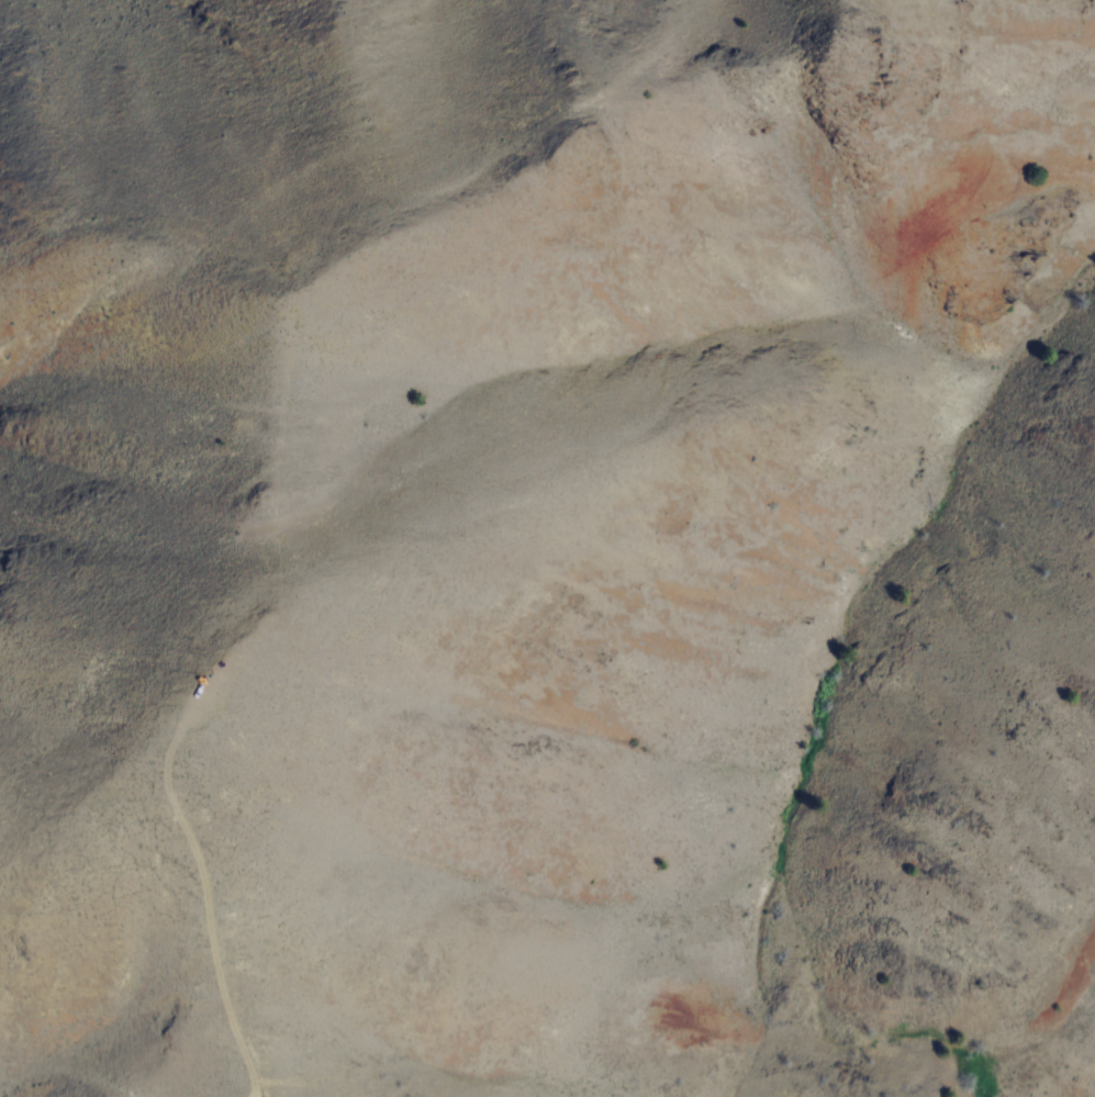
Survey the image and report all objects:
road: (203, 878)

